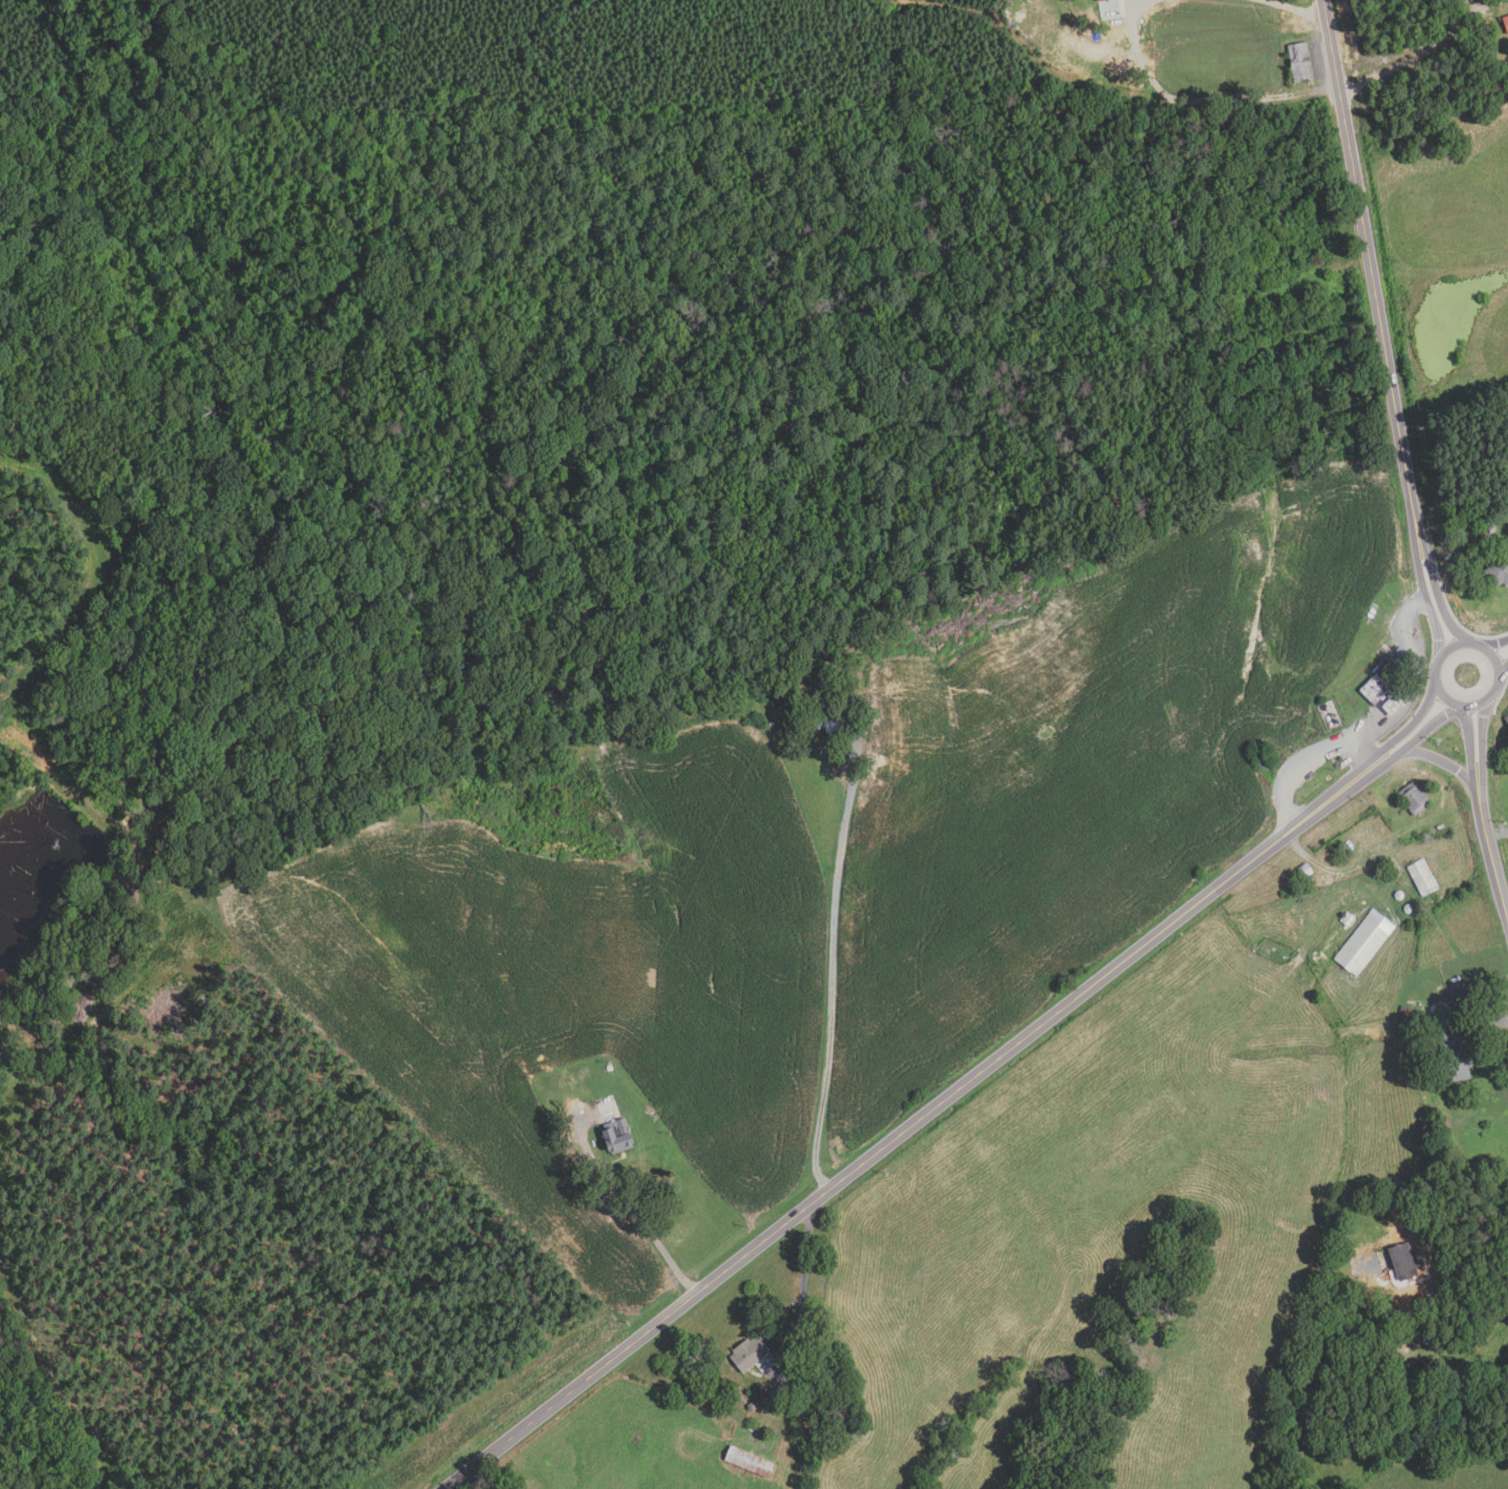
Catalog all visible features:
building: (1099, 0)
road: (1469, 8)
road: (1487, 8)
road: (1297, 9)
building: (1505, 23)
road: (1405, 59)
building: (1299, 63)
road: (1374, 281)
building: (1505, 520)
building: (1483, 534)
building: (1498, 572)
road: (1439, 607)
road: (1434, 610)
road: (1497, 648)
road: (1502, 662)
road: (1436, 664)
building: (1378, 684)
building: (1389, 707)
building: (1506, 717)
building: (753, 723)
road: (1419, 723)
building: (827, 724)
road: (1375, 730)
road: (1423, 730)
road: (1478, 732)
road: (1473, 735)
road: (1440, 757)
building: (1261, 760)
building: (1412, 798)
river: (576, 815)
road: (1496, 834)
road: (1487, 849)
building: (1304, 871)
building: (1422, 878)
building: (1398, 896)
silo: (1398, 896)
road: (1504, 901)
building: (1407, 910)
silo: (1407, 910)
building: (1346, 920)
building: (1363, 943)
road: (832, 961)
road: (1488, 1025)
building: (1453, 1056)
building: (611, 1068)
road: (920, 1122)
building: (620, 1136)
road: (635, 1214)
building: (1401, 1261)
road: (1427, 1295)
road: (802, 1298)
building: (752, 1352)
building: (738, 1433)
building: (752, 1462)

